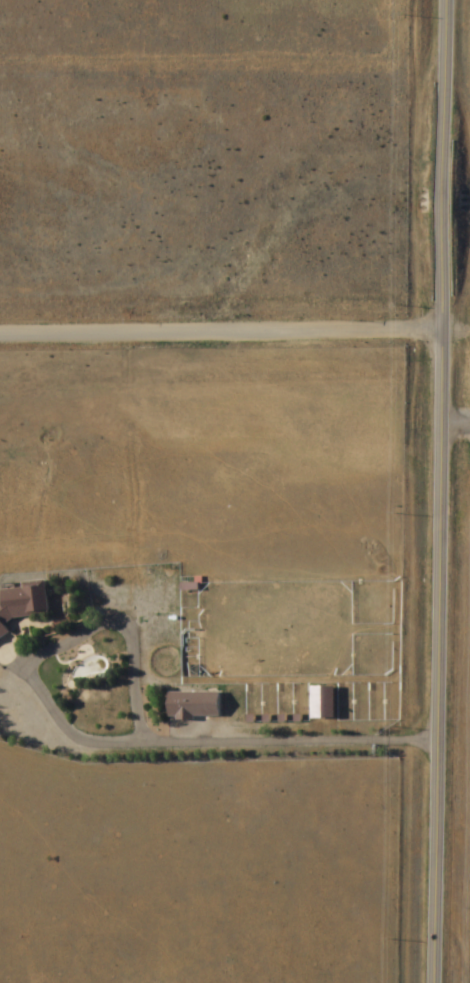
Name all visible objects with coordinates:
road: (219, 314)
road: (439, 491)
building: (24, 605)
building: (324, 705)
building: (194, 707)
road: (98, 741)

